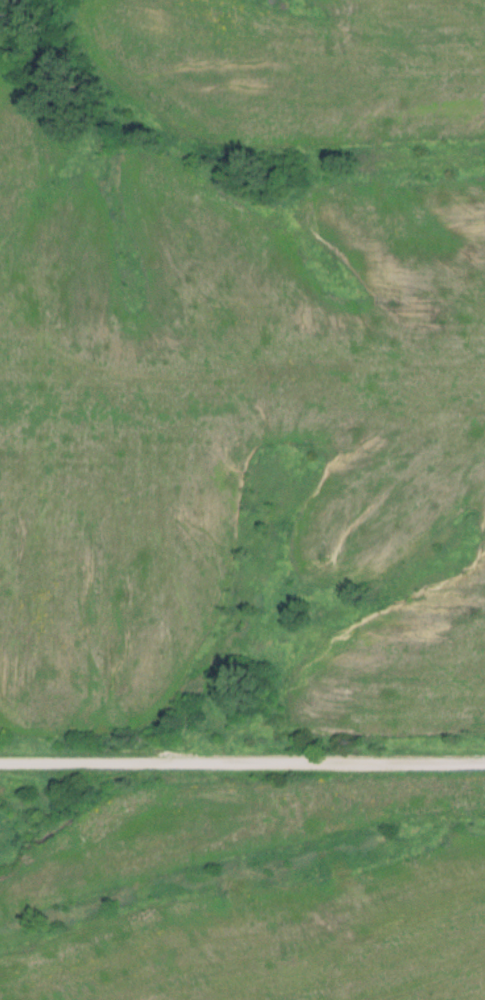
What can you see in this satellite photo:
road: (242, 765)

